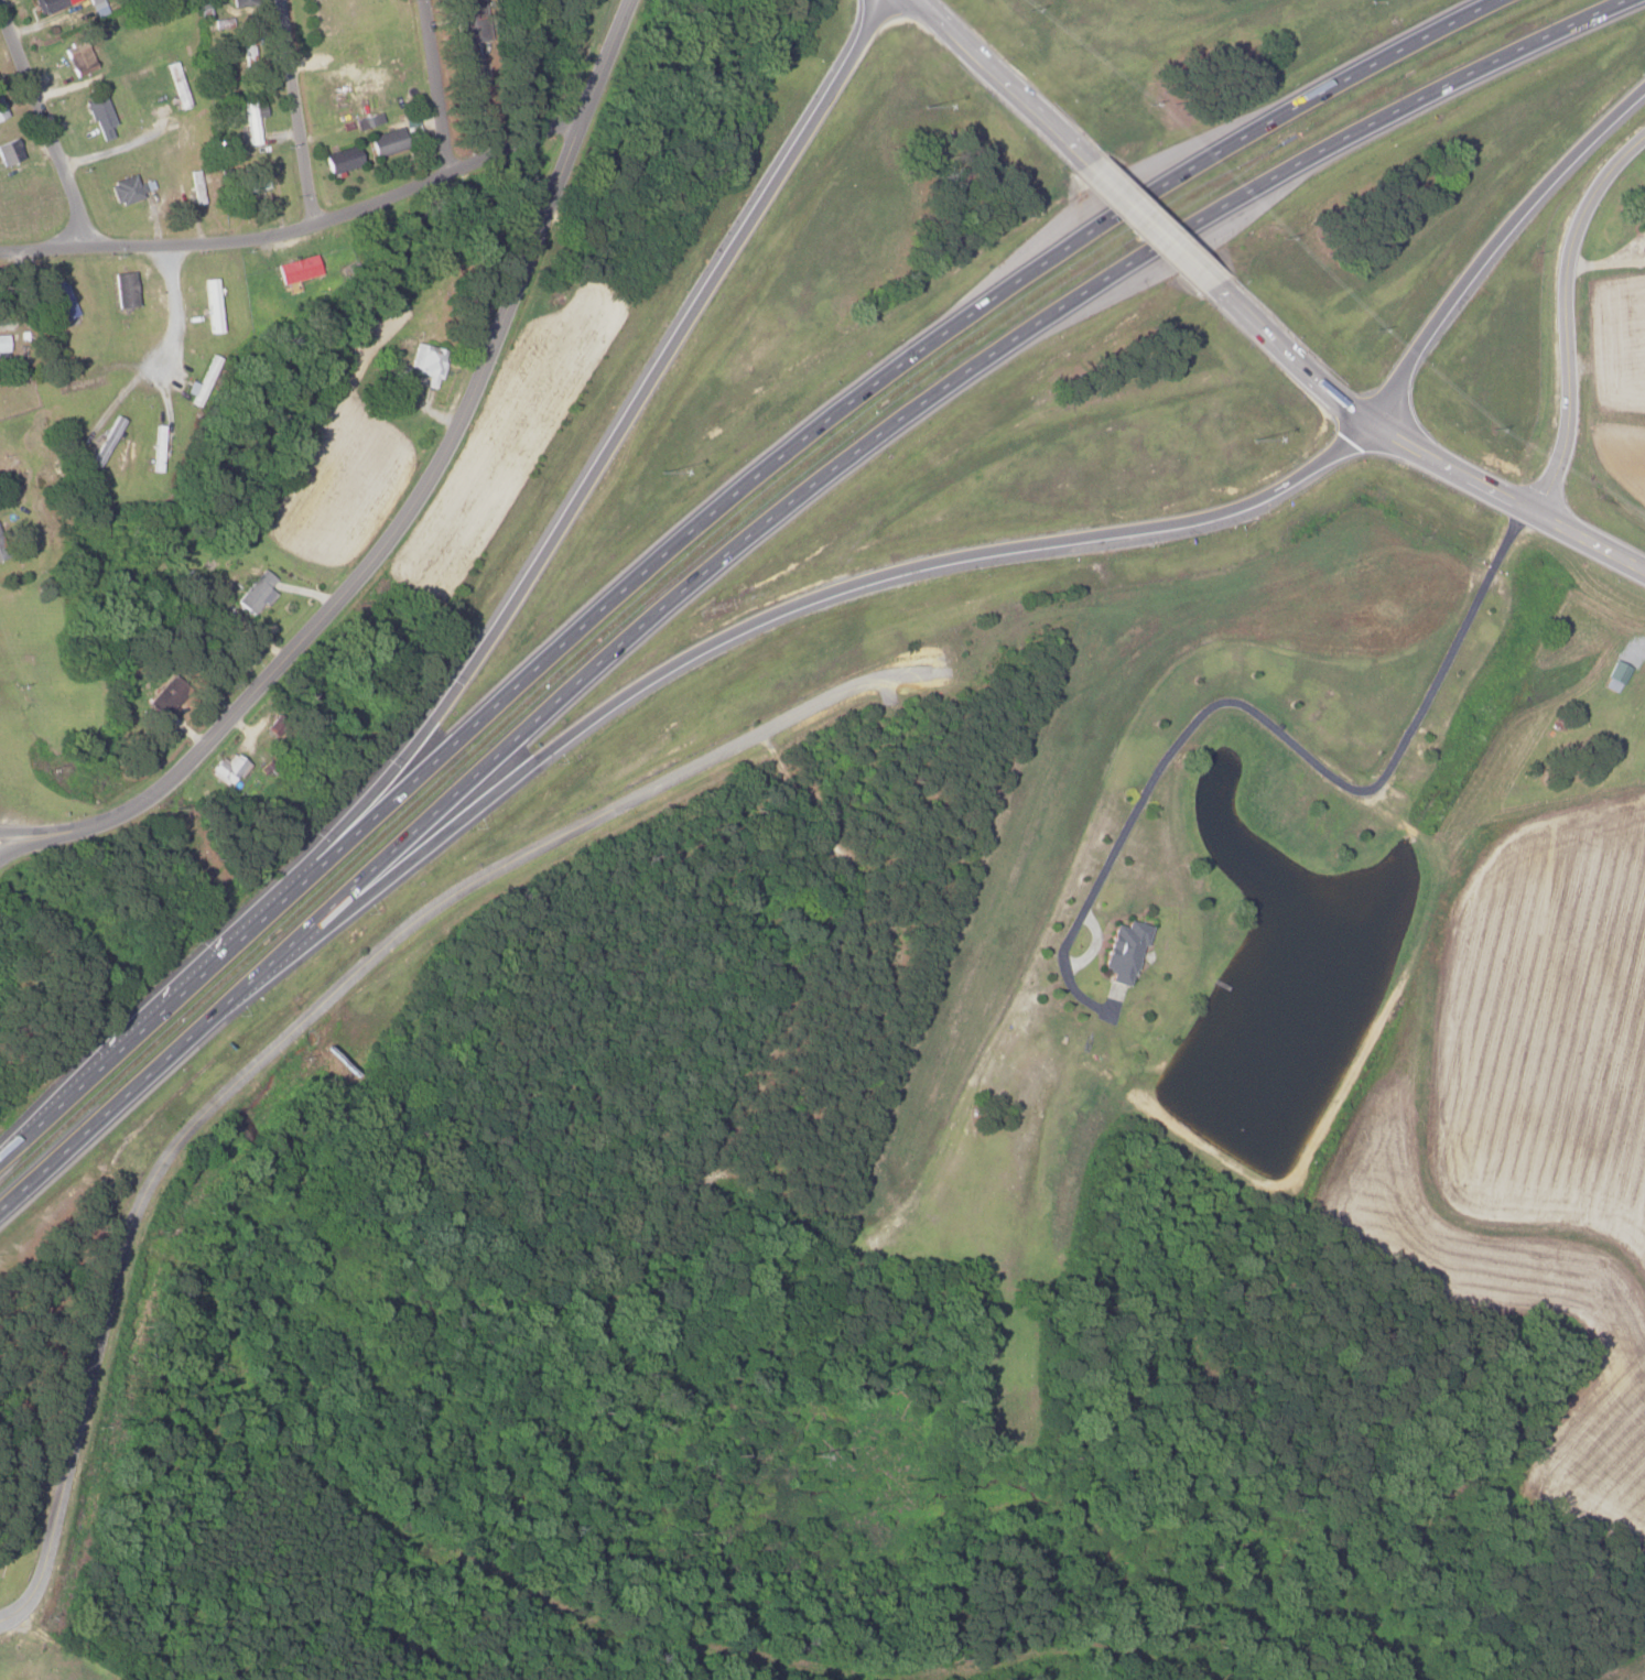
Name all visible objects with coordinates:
building: (241, 2)
building: (47, 4)
building: (97, 7)
building: (467, 26)
building: (77, 55)
road: (1008, 80)
road: (436, 86)
building: (2, 110)
road: (296, 112)
building: (99, 116)
building: (251, 117)
building: (368, 120)
road: (47, 128)
building: (387, 141)
building: (9, 151)
building: (340, 159)
building: (252, 185)
building: (125, 189)
road: (1154, 225)
road: (302, 226)
building: (1642, 227)
road: (1497, 252)
road: (1605, 263)
building: (296, 269)
building: (123, 289)
building: (62, 302)
building: (212, 305)
road: (173, 308)
road: (1566, 314)
building: (3, 344)
road: (1292, 357)
building: (428, 361)
road: (625, 432)
road: (404, 499)
road: (1506, 499)
road: (707, 522)
road: (758, 534)
building: (0, 554)
building: (255, 593)
road: (746, 630)
building: (1615, 675)
building: (166, 696)
road: (1270, 724)
building: (227, 769)
building: (1123, 952)
road: (323, 1001)
road: (6, 1622)

